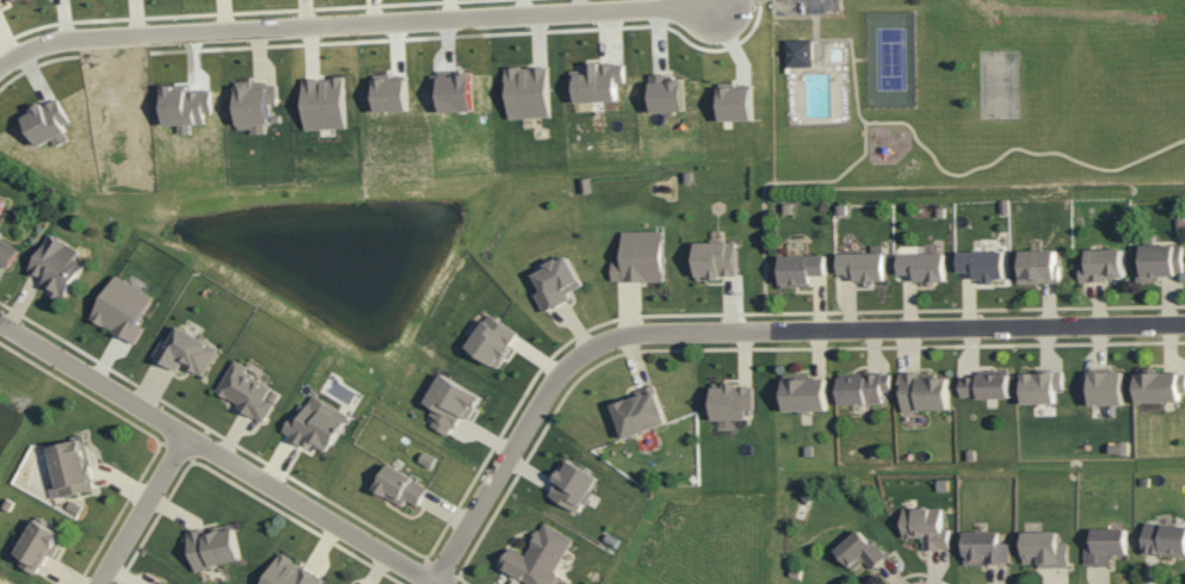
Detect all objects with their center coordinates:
building: (5, 1)
road: (726, 2)
parking lot: (809, 8)
road: (353, 25)
building: (798, 55)
park: (890, 57)
road: (860, 61)
building: (597, 83)
park: (999, 83)
park: (976, 88)
building: (451, 94)
building: (526, 94)
building: (666, 94)
building: (388, 97)
building: (322, 105)
building: (253, 106)
building: (734, 106)
road: (1013, 149)
road: (860, 156)
building: (1, 205)
building: (638, 256)
building: (712, 259)
building: (1158, 260)
building: (980, 262)
building: (1098, 263)
building: (55, 265)
building: (860, 265)
building: (921, 265)
building: (1035, 265)
building: (800, 267)
building: (555, 281)
building: (121, 309)
road: (975, 310)
road: (742, 329)
building: (490, 340)
building: (185, 349)
road: (760, 349)
road: (547, 361)
building: (986, 386)
building: (1039, 386)
building: (1101, 386)
building: (1158, 386)
building: (862, 389)
building: (246, 390)
building: (922, 391)
building: (803, 392)
building: (729, 400)
building: (449, 403)
building: (637, 414)
building: (315, 424)
road: (212, 454)
building: (69, 466)
building: (570, 485)
building: (399, 486)
road: (141, 511)
building: (924, 524)
building: (1162, 539)
building: (36, 545)
building: (1103, 545)
building: (210, 547)
building: (983, 547)
building: (1042, 548)
building: (857, 551)
building: (538, 557)
road: (439, 569)
building: (288, 573)
road: (918, 573)
road: (461, 580)
building: (158, 582)
building: (562, 582)

